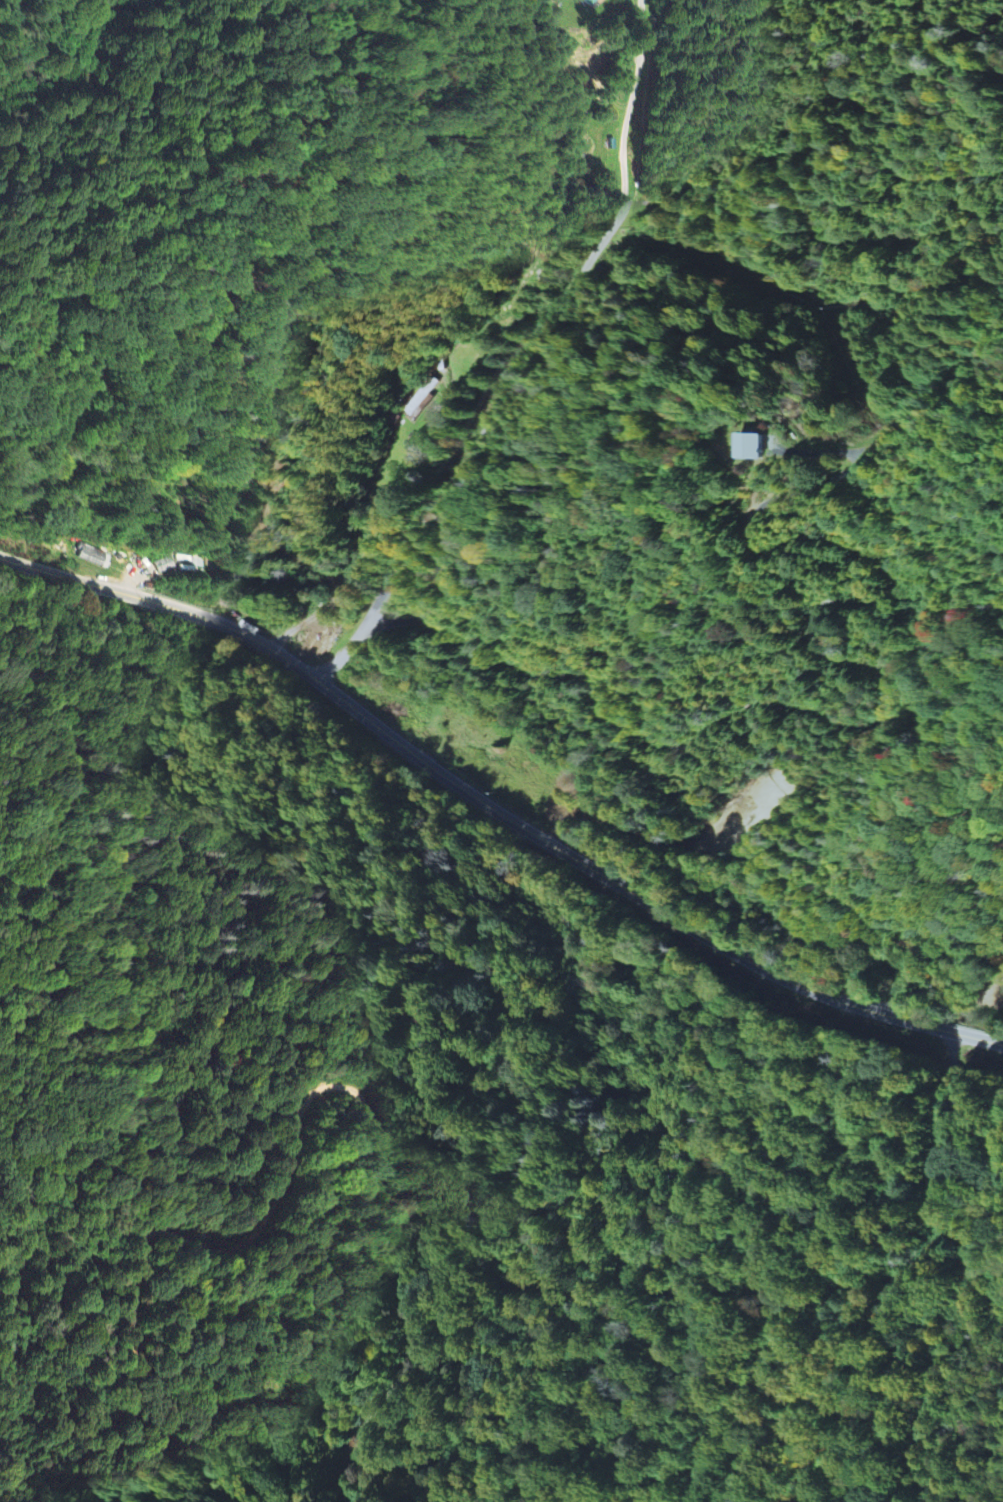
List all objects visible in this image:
road: (545, 329)
road: (842, 656)
road: (341, 657)
road: (496, 807)
road: (294, 1111)
road: (862, 1291)
road: (851, 1390)

